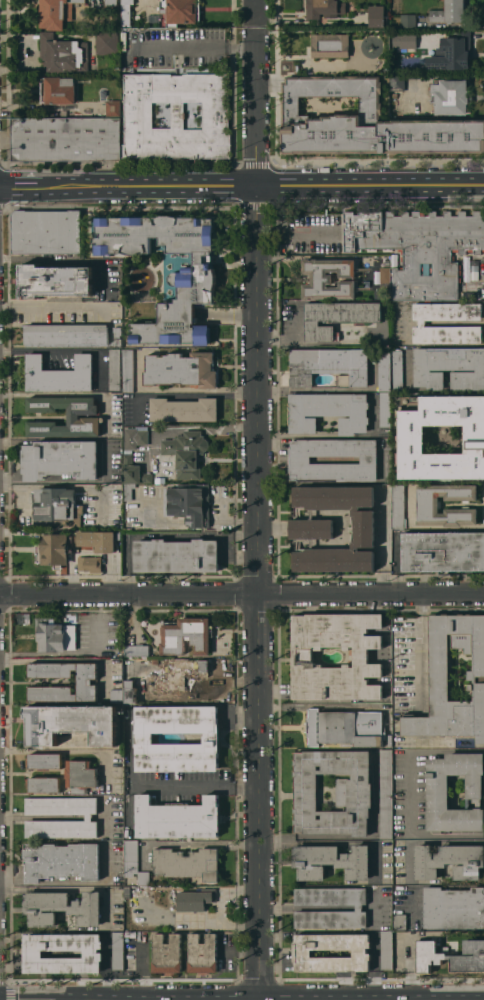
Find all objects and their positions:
building: (111, 2)
road: (254, 3)
building: (325, 10)
building: (180, 11)
building: (450, 12)
building: (56, 13)
building: (127, 13)
road: (255, 15)
building: (377, 16)
building: (408, 20)
road: (255, 31)
building: (410, 40)
building: (107, 42)
road: (191, 45)
building: (330, 45)
building: (453, 52)
building: (63, 53)
building: (397, 81)
building: (58, 90)
building: (452, 96)
building: (113, 107)
road: (254, 110)
building: (176, 116)
building: (366, 122)
building: (66, 138)
road: (264, 184)
road: (22, 186)
building: (47, 231)
road: (296, 234)
building: (419, 248)
road: (65, 260)
building: (387, 262)
building: (474, 270)
building: (385, 275)
building: (329, 278)
building: (191, 279)
building: (55, 280)
building: (380, 294)
building: (465, 294)
road: (50, 306)
building: (337, 317)
building: (422, 323)
building: (66, 333)
building: (118, 336)
road: (294, 339)
road: (58, 349)
building: (330, 366)
building: (449, 367)
building: (398, 368)
building: (115, 369)
building: (182, 369)
building: (128, 370)
building: (384, 371)
building: (59, 374)
road: (184, 394)
building: (385, 409)
building: (183, 410)
building: (328, 411)
building: (115, 414)
building: (73, 416)
road: (192, 427)
building: (141, 437)
building: (412, 437)
building: (187, 452)
building: (60, 459)
building: (300, 459)
building: (134, 471)
road: (63, 486)
building: (129, 490)
building: (189, 503)
building: (429, 504)
building: (58, 505)
building: (398, 506)
road: (159, 518)
road: (198, 518)
road: (233, 519)
building: (312, 528)
road: (178, 535)
building: (97, 540)
building: (384, 548)
building: (53, 550)
building: (443, 551)
building: (176, 555)
building: (89, 563)
road: (256, 592)
road: (242, 593)
road: (95, 620)
building: (56, 633)
building: (187, 635)
building: (137, 650)
road: (418, 651)
building: (303, 656)
building: (155, 661)
building: (184, 671)
building: (440, 678)
building: (83, 681)
building: (156, 682)
building: (131, 691)
building: (117, 695)
building: (71, 723)
building: (345, 727)
building: (144, 738)
road: (71, 750)
building: (44, 760)
road: (128, 770)
building: (80, 775)
building: (43, 784)
road: (193, 785)
building: (438, 785)
road: (408, 792)
building: (386, 793)
building: (354, 794)
road: (108, 815)
road: (43, 817)
road: (89, 817)
road: (100, 817)
building: (89, 818)
building: (178, 818)
road: (197, 842)
building: (62, 860)
building: (331, 861)
building: (450, 861)
building: (134, 862)
building: (188, 863)
road: (13, 880)
road: (34, 880)
road: (89, 881)
building: (196, 899)
road: (375, 902)
building: (61, 907)
road: (306, 907)
road: (359, 907)
building: (454, 907)
building: (359, 909)
road: (376, 914)
building: (400, 922)
building: (387, 949)
building: (118, 950)
building: (303, 951)
building: (167, 953)
building: (203, 953)
building: (93, 954)
building: (451, 956)
road: (411, 967)
road: (375, 968)

